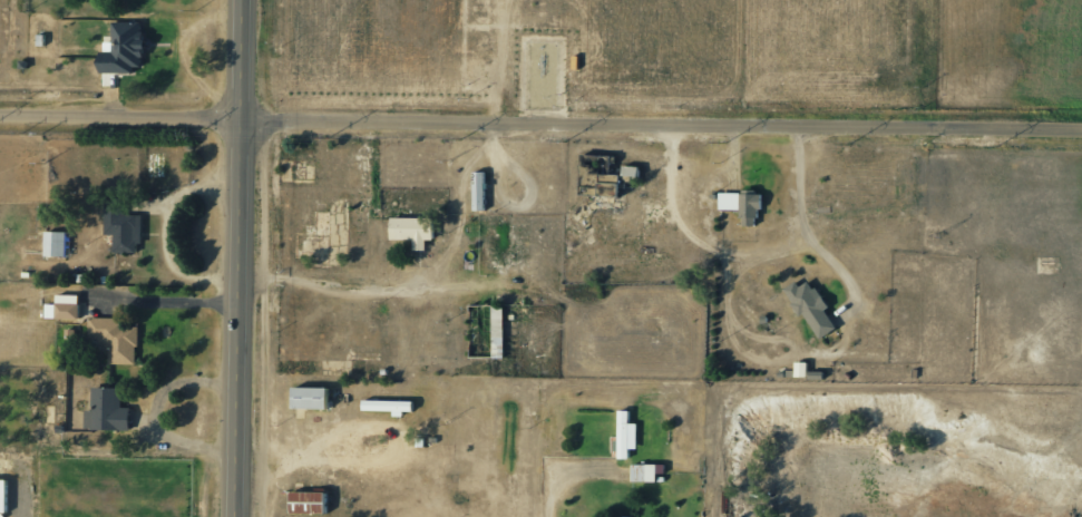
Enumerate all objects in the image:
building: (121, 49)
road: (124, 125)
road: (664, 131)
building: (596, 176)
building: (477, 191)
building: (741, 205)
building: (120, 226)
building: (411, 230)
building: (53, 243)
road: (246, 258)
road: (741, 260)
road: (840, 276)
road: (175, 302)
building: (62, 306)
building: (810, 308)
road: (399, 334)
building: (114, 339)
building: (800, 369)
building: (309, 398)
building: (388, 406)
road: (154, 409)
building: (105, 410)
building: (625, 435)
building: (645, 471)
building: (2, 496)
building: (308, 503)
building: (624, 516)

